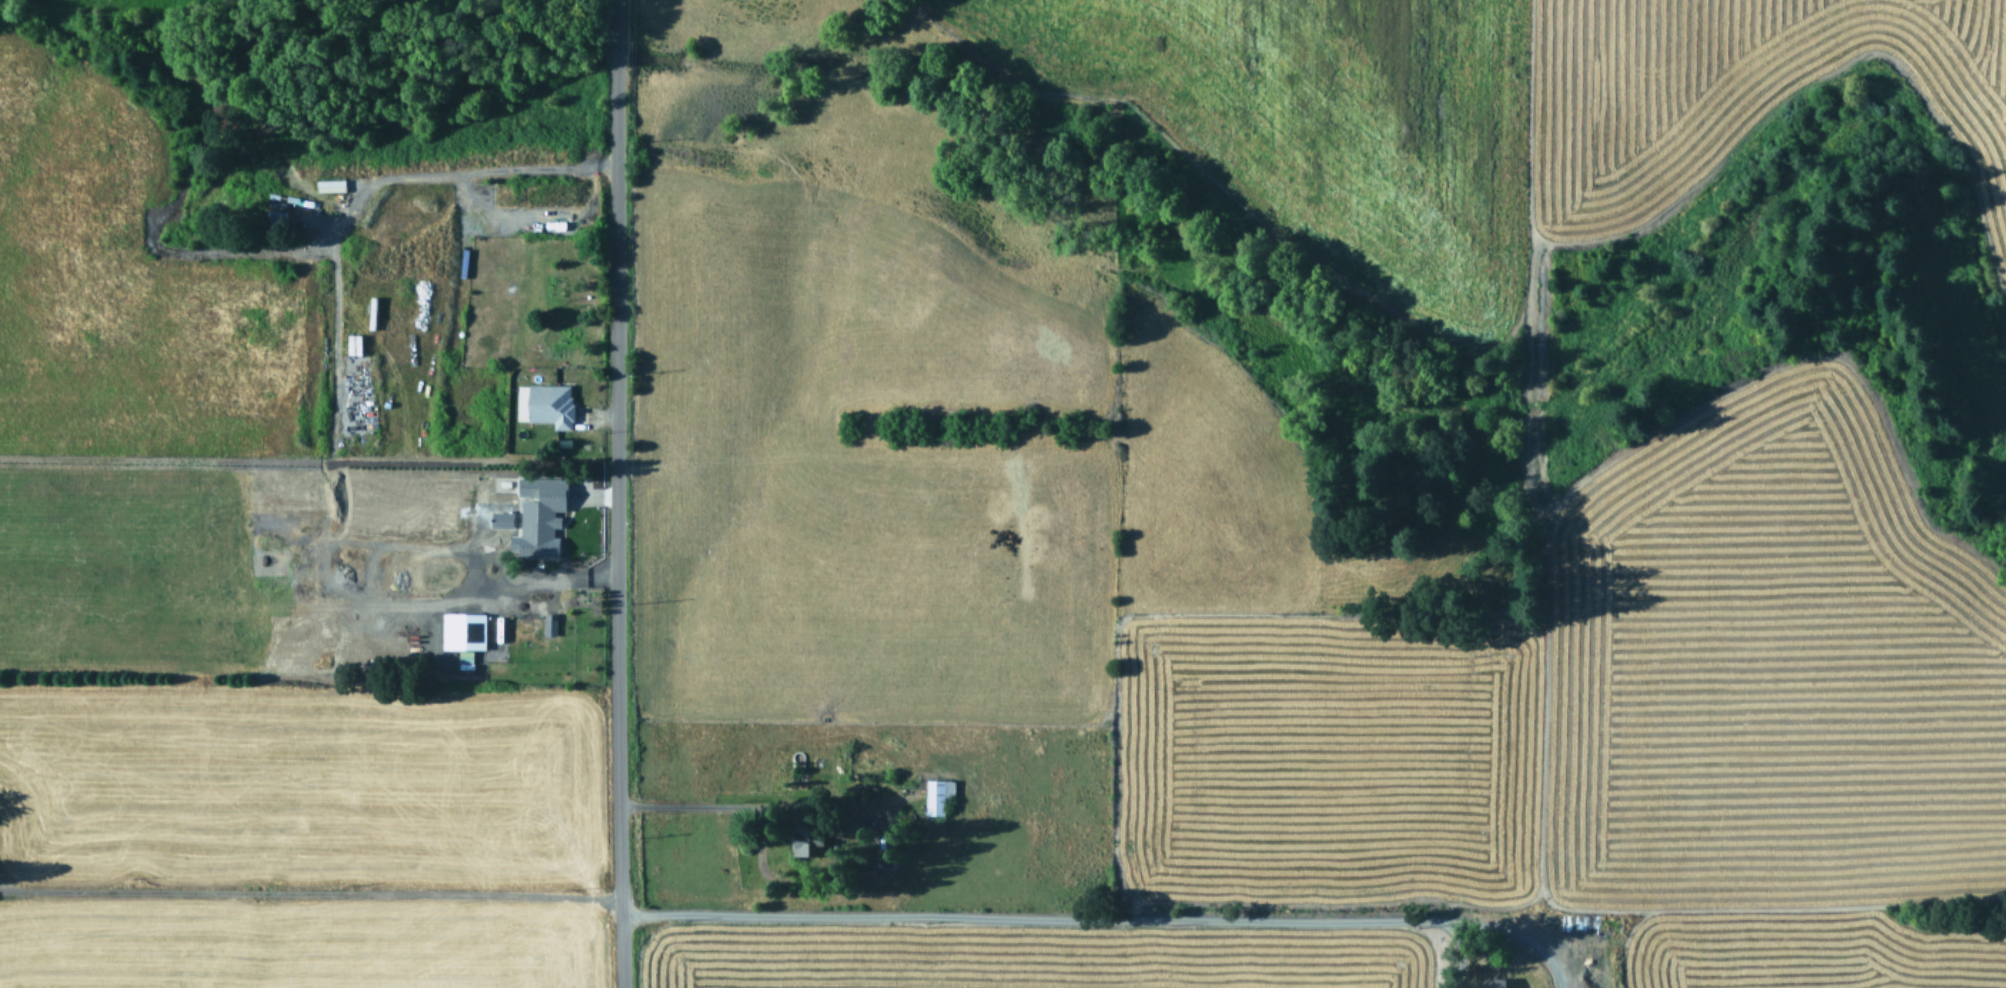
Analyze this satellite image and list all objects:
crop: (74, 2)
road: (612, 13)
road: (612, 56)
crop: (1478, 107)
building: (329, 183)
road: (476, 189)
building: (352, 342)
building: (548, 402)
building: (538, 513)
building: (500, 517)
road: (328, 521)
road: (614, 536)
building: (549, 622)
building: (461, 629)
crop: (872, 631)
building: (937, 793)
road: (691, 805)
building: (802, 840)
road: (730, 912)
road: (1523, 935)
road: (1460, 953)
building: (1489, 982)

